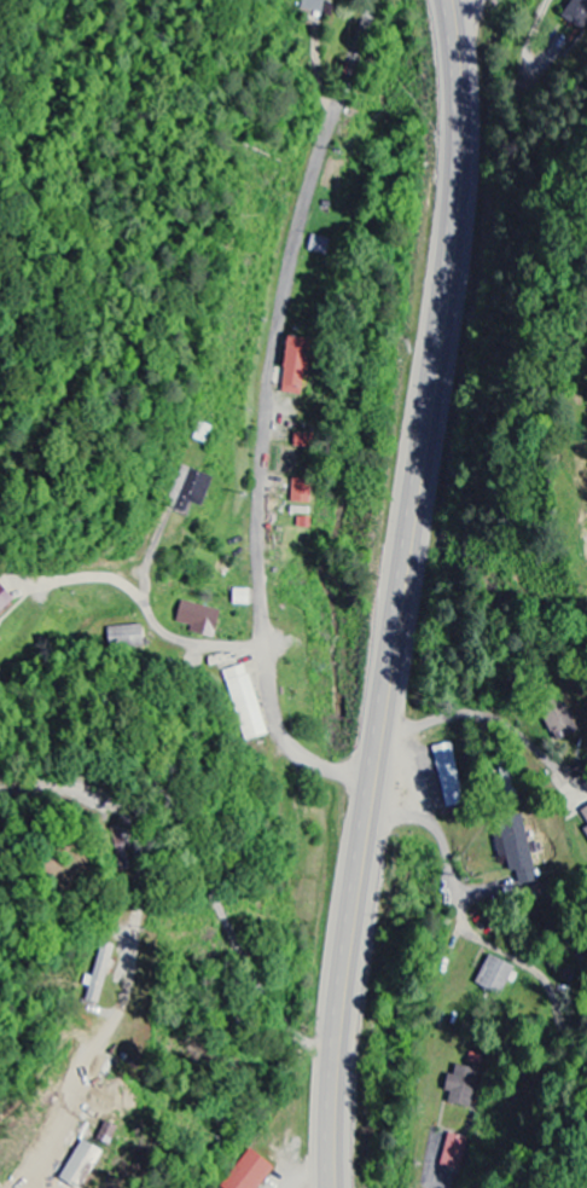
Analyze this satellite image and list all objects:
building: (291, 367)
road: (262, 424)
building: (188, 491)
building: (298, 491)
road: (403, 593)
building: (239, 597)
building: (4, 598)
building: (196, 619)
road: (213, 647)
building: (245, 703)
road: (481, 717)
building: (559, 717)
building: (444, 766)
building: (583, 815)
building: (585, 831)
building: (511, 845)
road: (198, 863)
road: (461, 916)
road: (134, 950)
building: (98, 977)
building: (493, 977)
building: (460, 1088)
building: (104, 1134)
building: (455, 1154)
building: (77, 1166)
building: (248, 1172)

